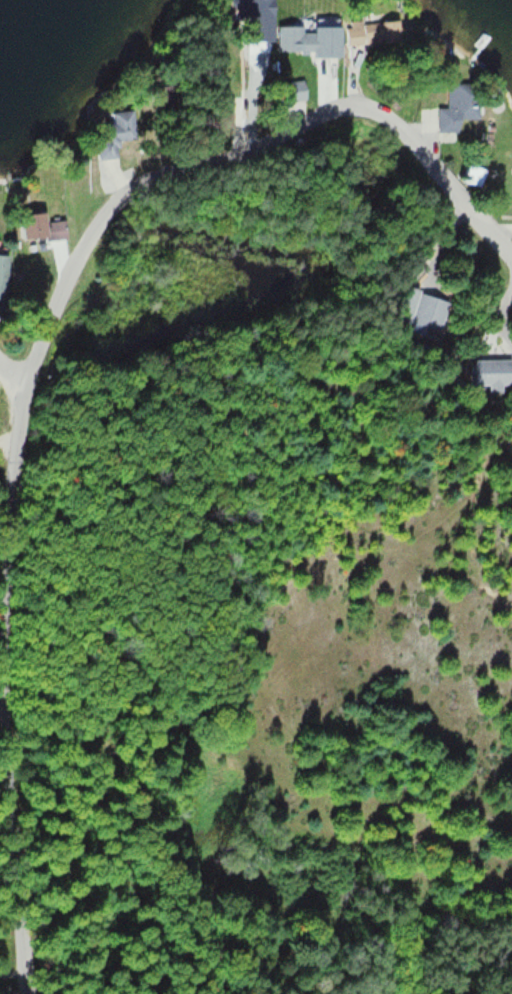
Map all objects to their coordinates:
building: (375, 31)
building: (310, 39)
building: (293, 90)
building: (461, 106)
building: (116, 132)
road: (236, 145)
building: (477, 174)
building: (43, 224)
building: (4, 278)
building: (502, 355)
road: (13, 375)
road: (8, 439)
road: (7, 691)
road: (3, 715)
road: (16, 975)

